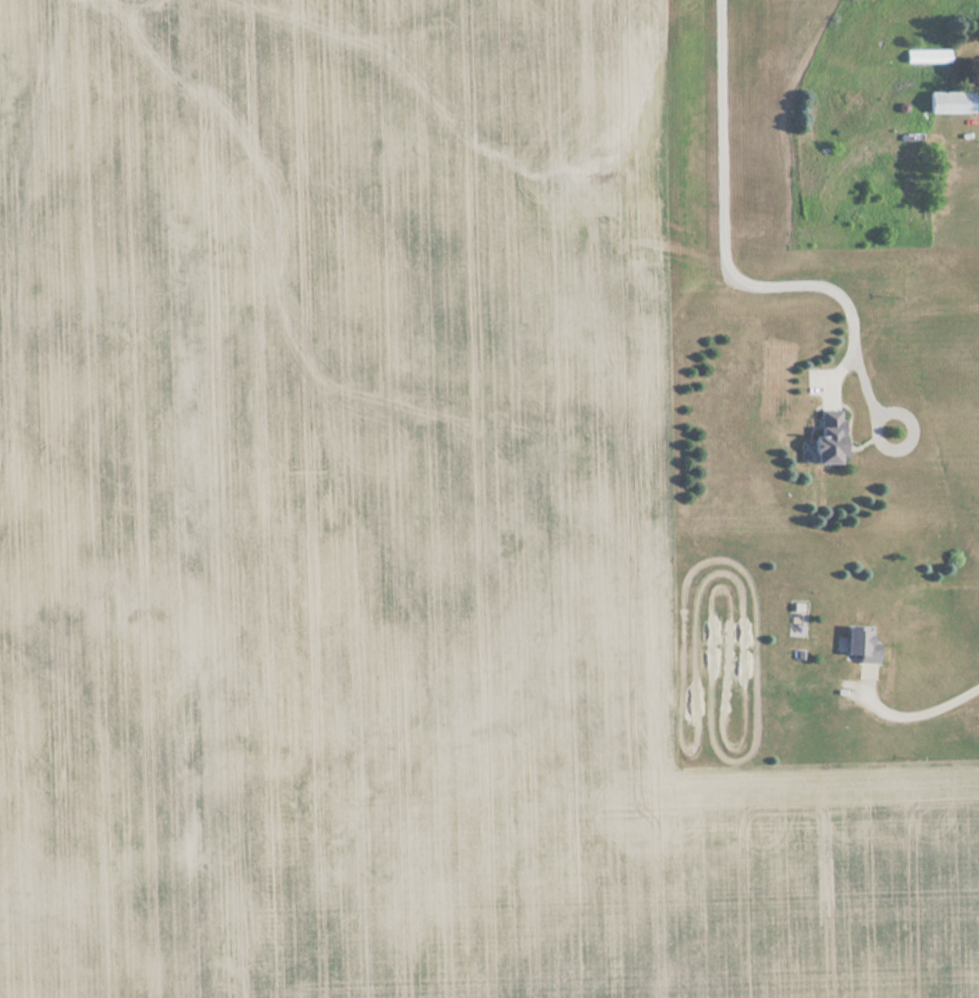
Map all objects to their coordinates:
building: (928, 57)
building: (948, 102)
road: (727, 267)
building: (828, 435)
building: (861, 643)
road: (910, 712)

